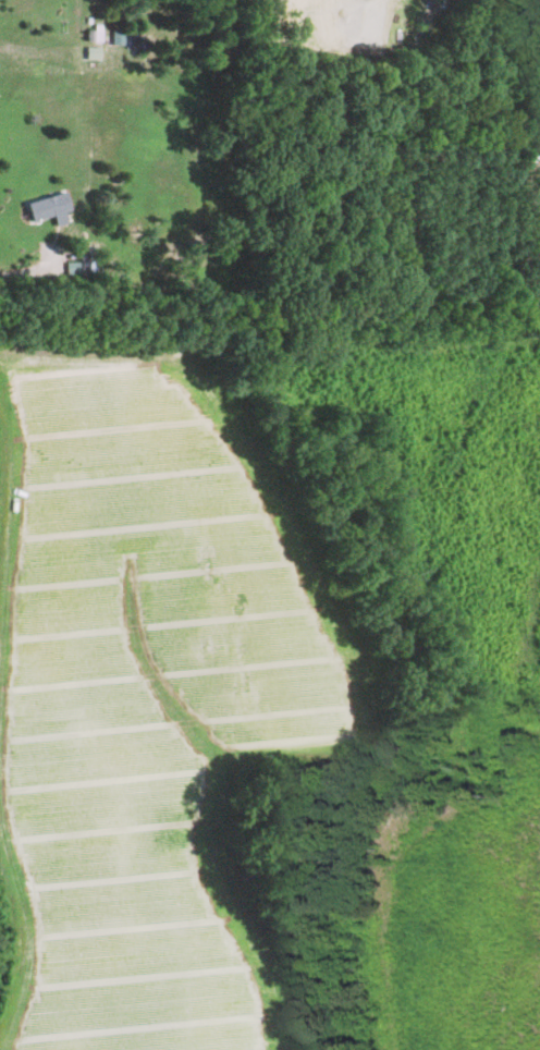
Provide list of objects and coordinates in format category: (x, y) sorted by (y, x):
building: (91, 34)
building: (114, 37)
building: (89, 52)
building: (47, 208)
road: (23, 271)

